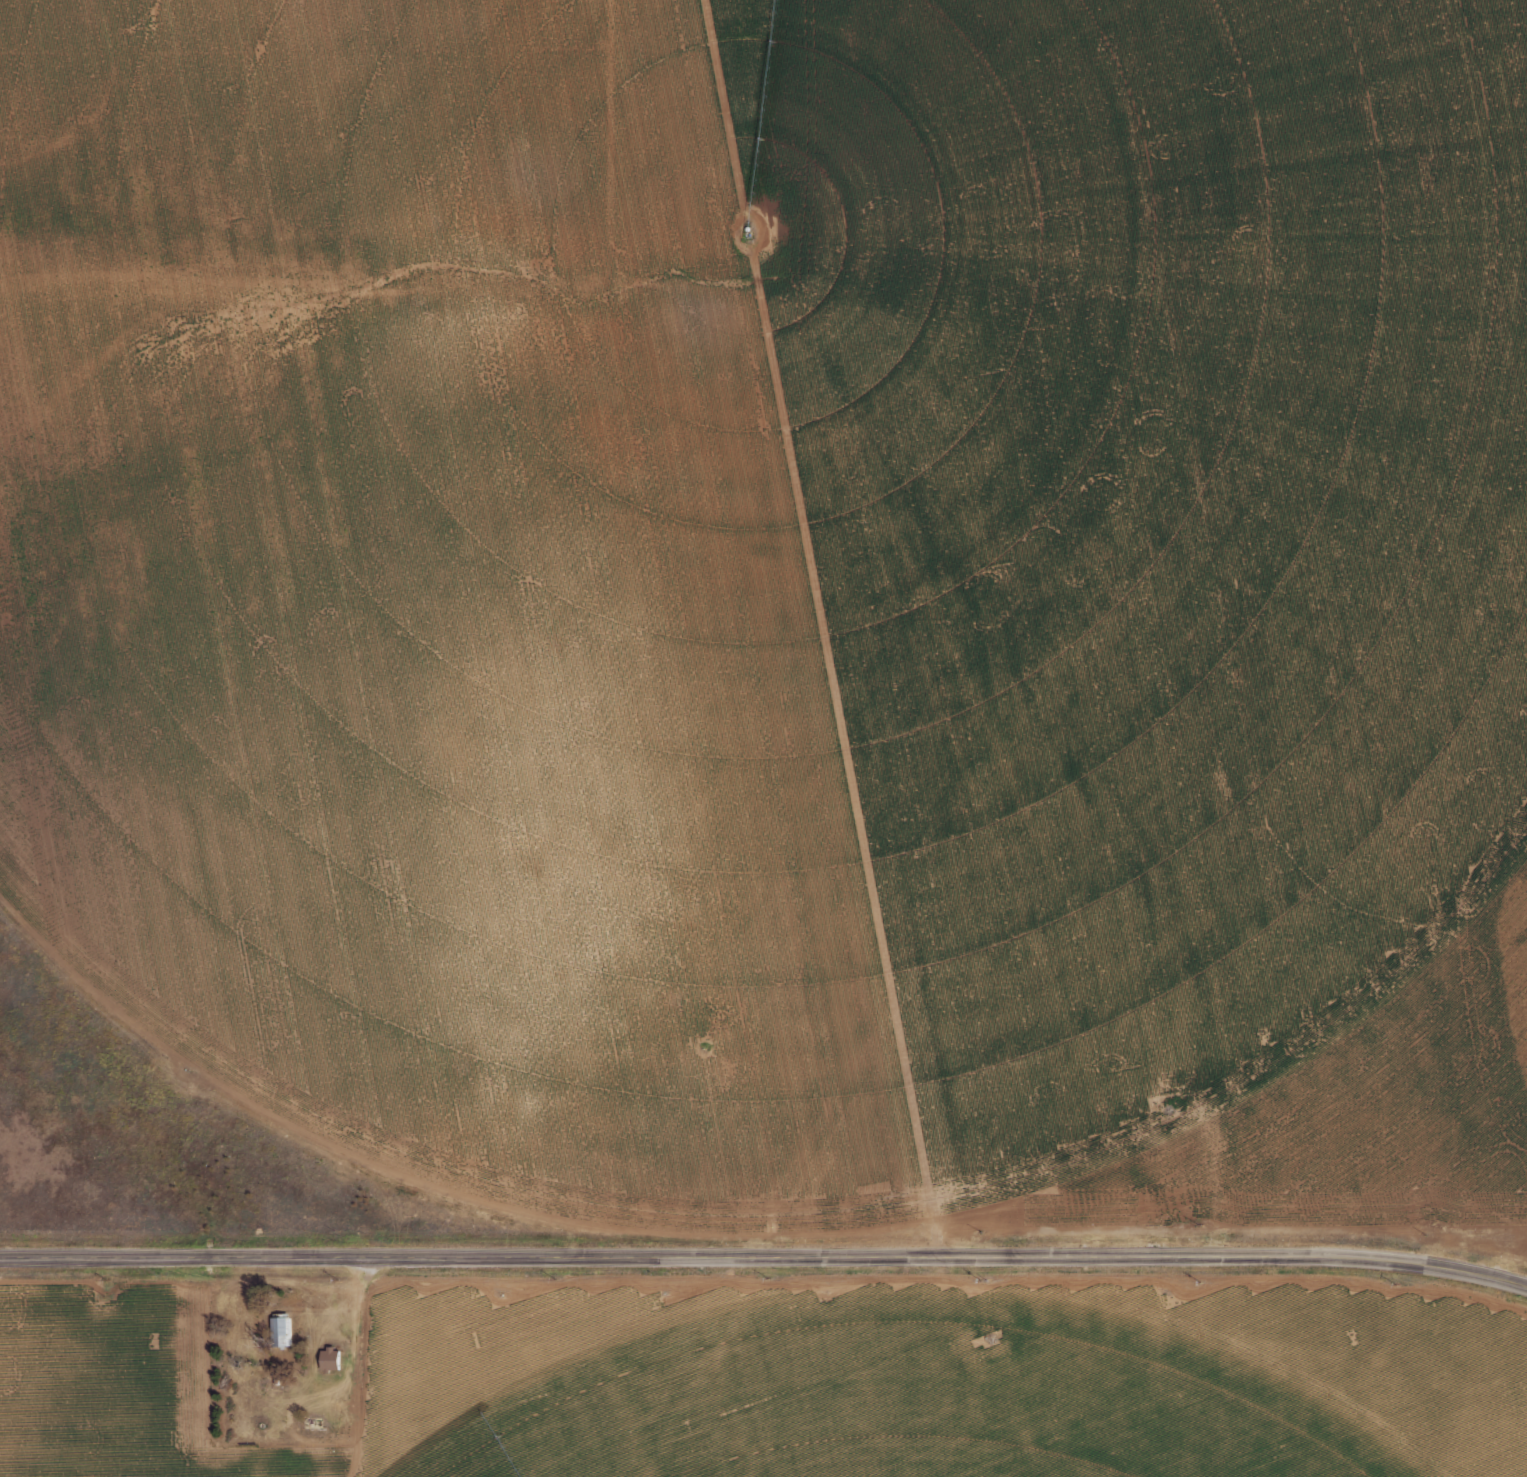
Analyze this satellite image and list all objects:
road: (765, 1249)
building: (280, 1332)
building: (328, 1358)

